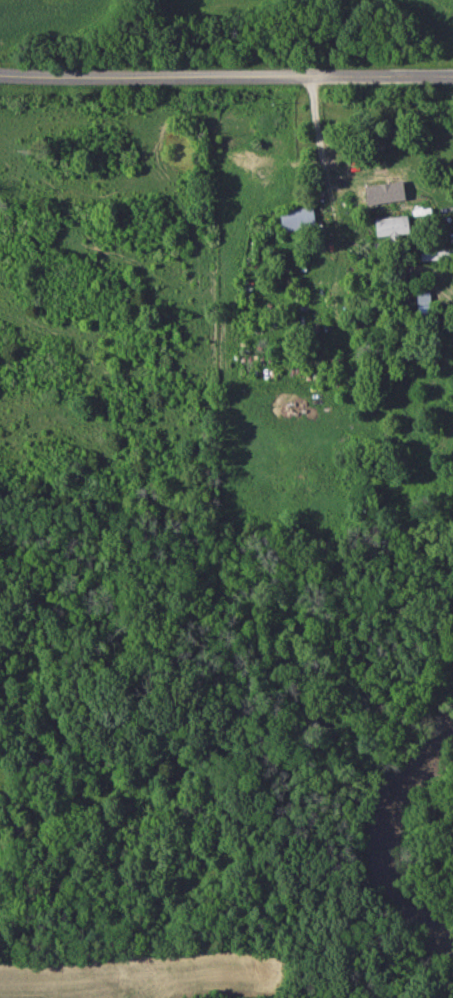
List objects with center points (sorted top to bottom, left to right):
road: (226, 74)
road: (317, 131)
building: (377, 196)
building: (302, 220)
building: (397, 227)
building: (442, 255)
river: (393, 845)

